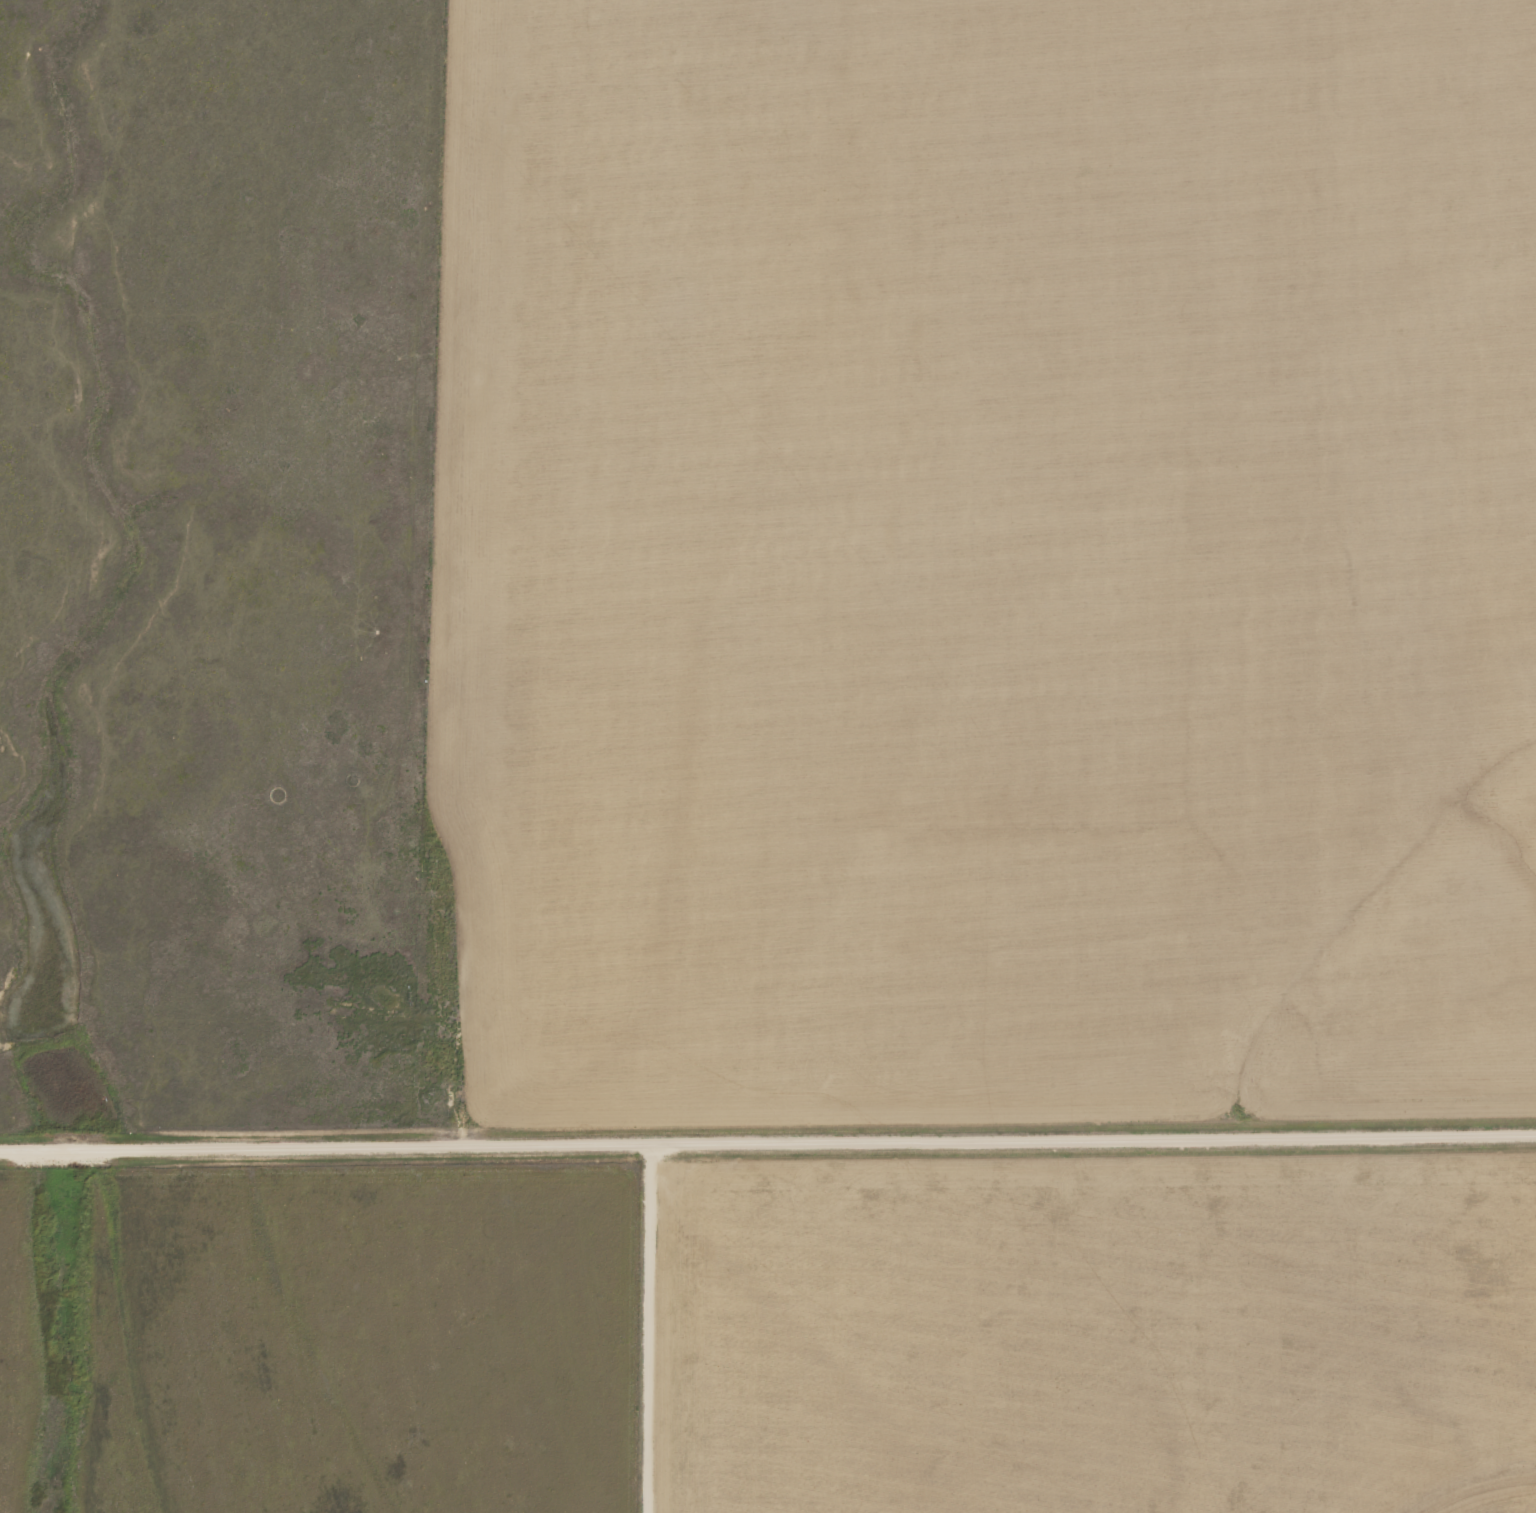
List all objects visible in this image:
road: (768, 1140)

